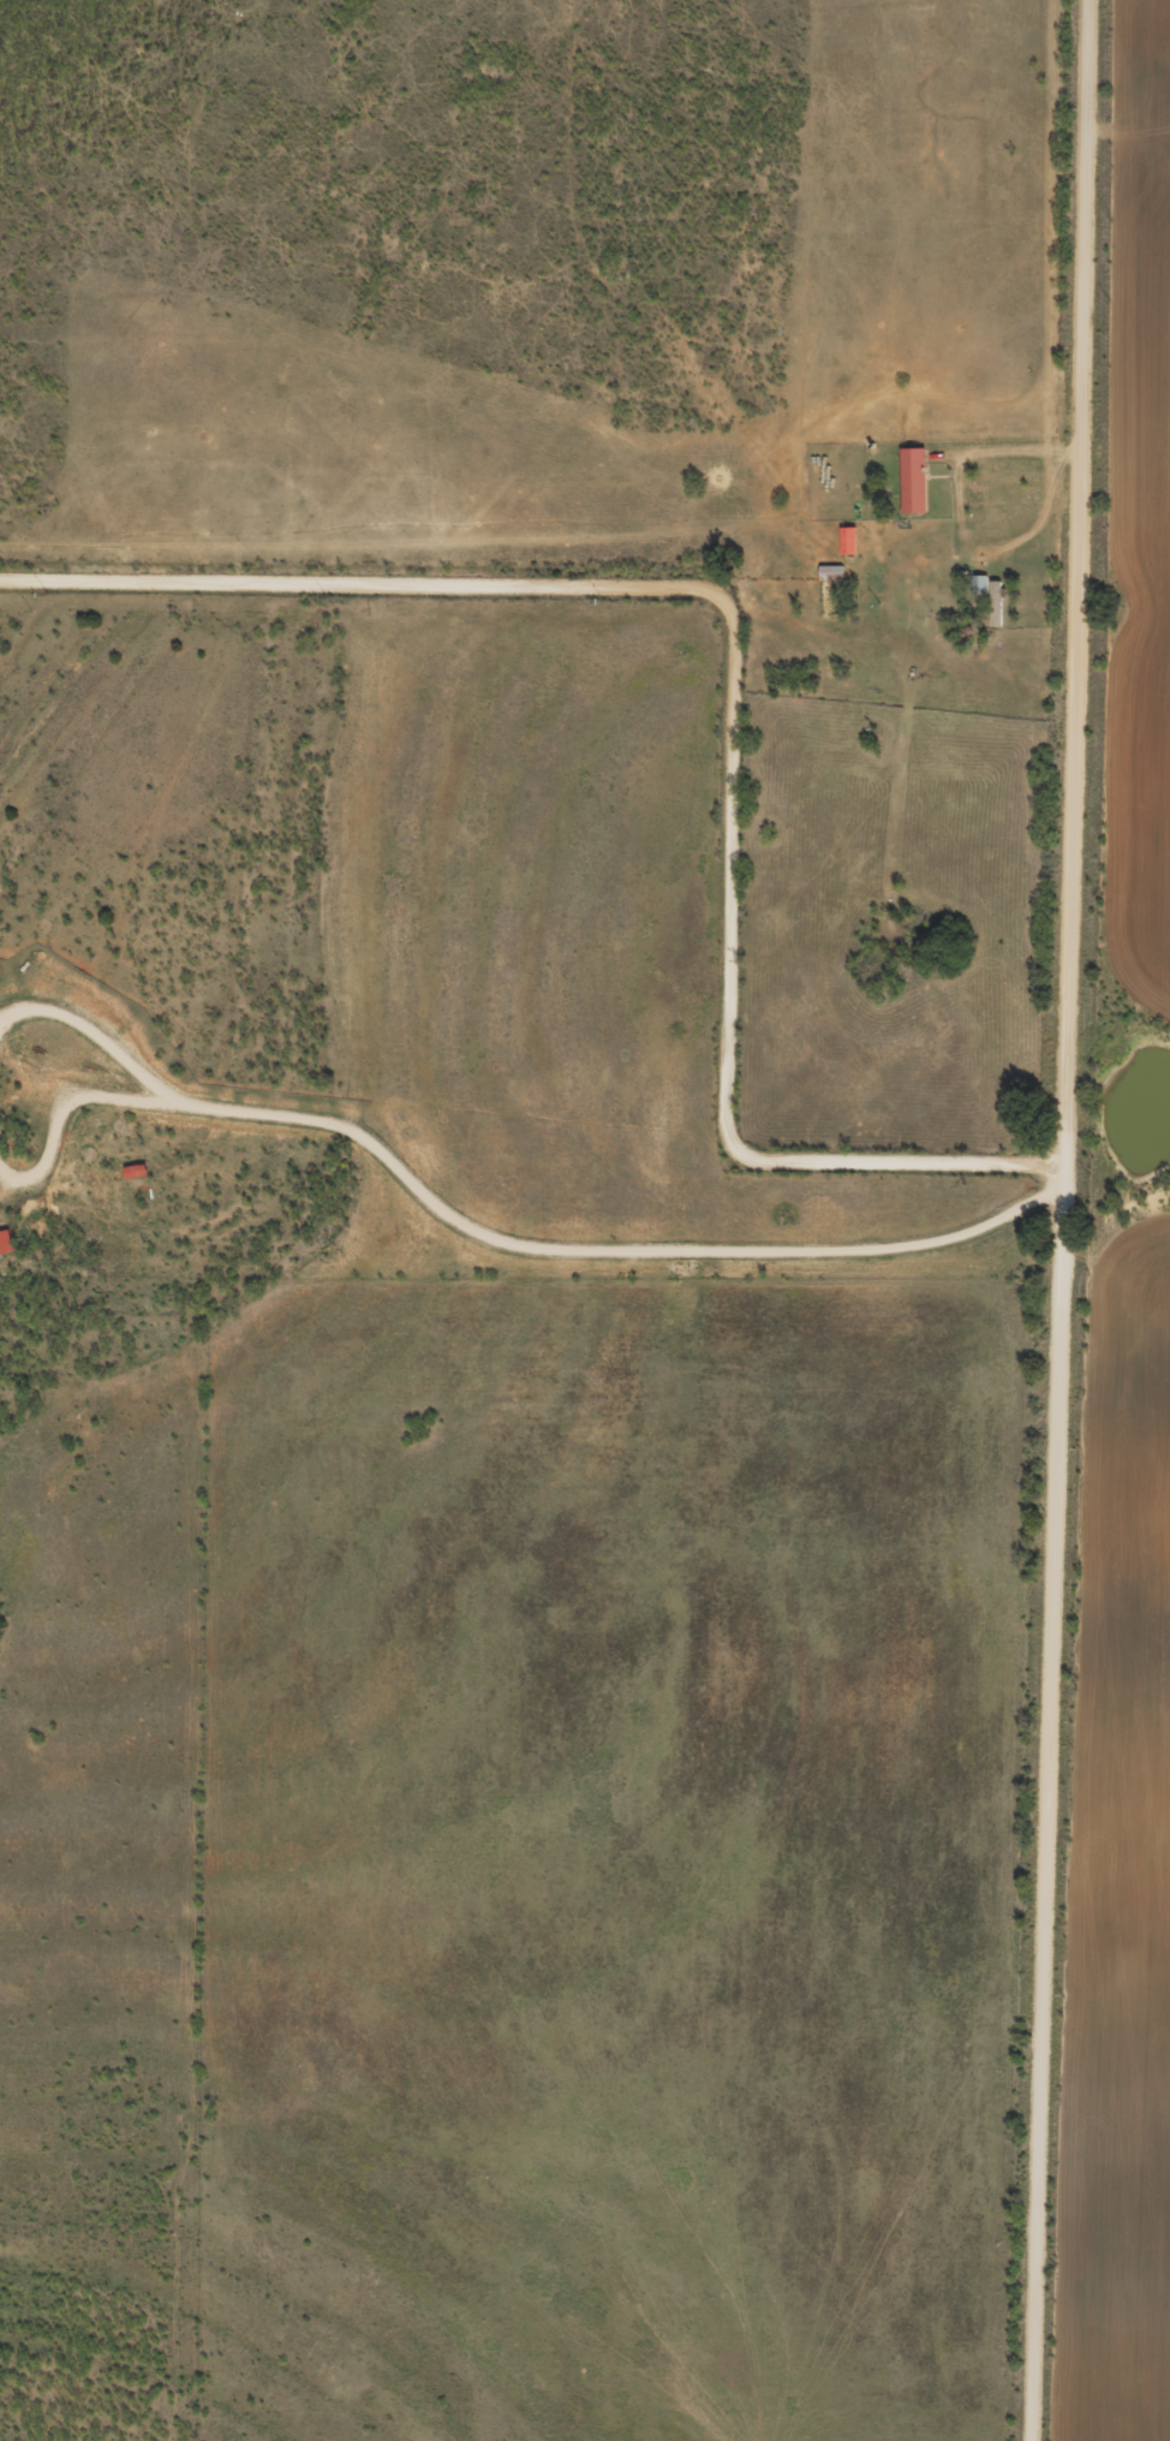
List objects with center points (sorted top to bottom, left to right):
building: (912, 490)
building: (846, 550)
building: (977, 594)
building: (993, 613)
road: (733, 689)
road: (1061, 1220)
road: (499, 1251)
building: (4, 1252)

